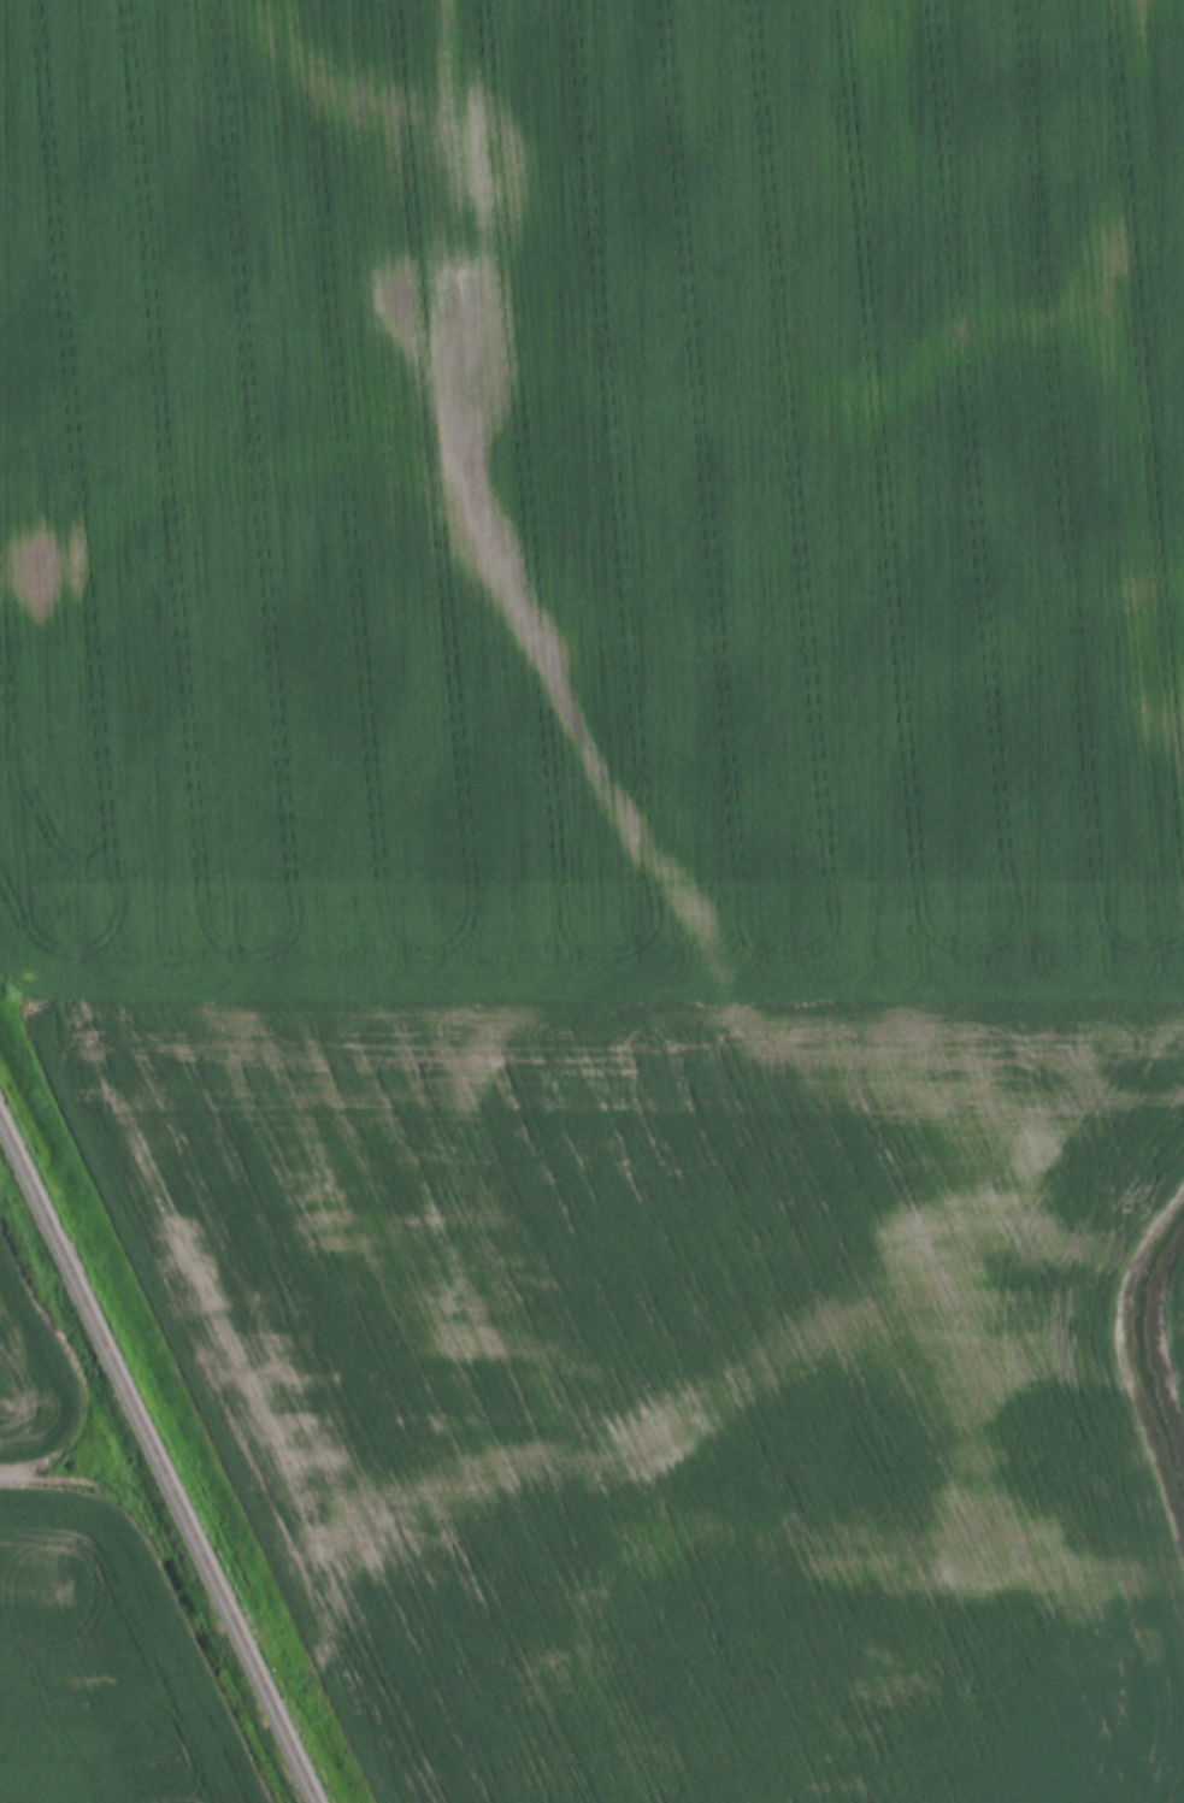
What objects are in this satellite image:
railway: (159, 1459)

